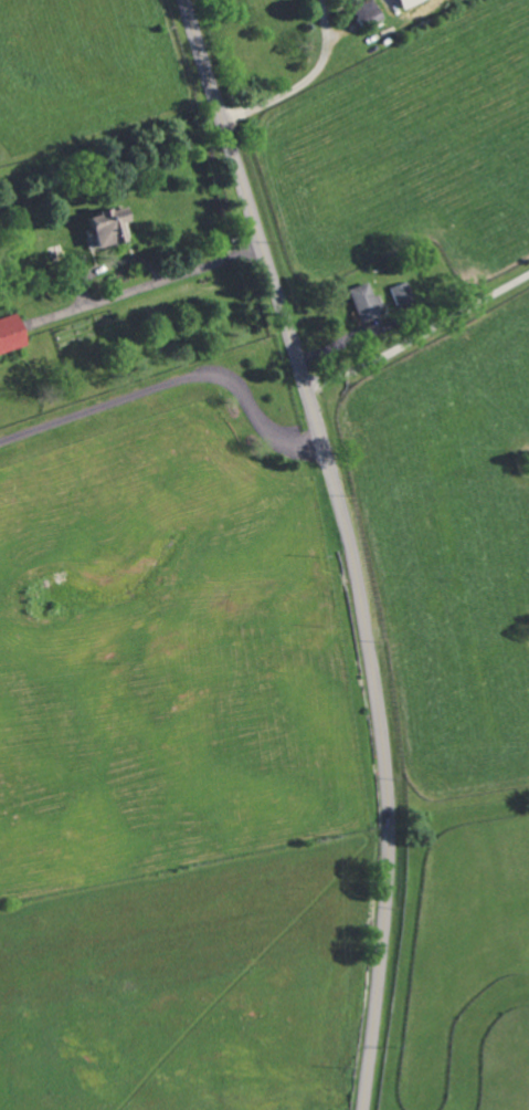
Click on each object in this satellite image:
building: (406, 3)
building: (366, 13)
road: (304, 82)
building: (105, 229)
road: (121, 292)
building: (402, 295)
building: (363, 303)
road: (417, 333)
building: (9, 335)
road: (171, 381)
road: (349, 544)

